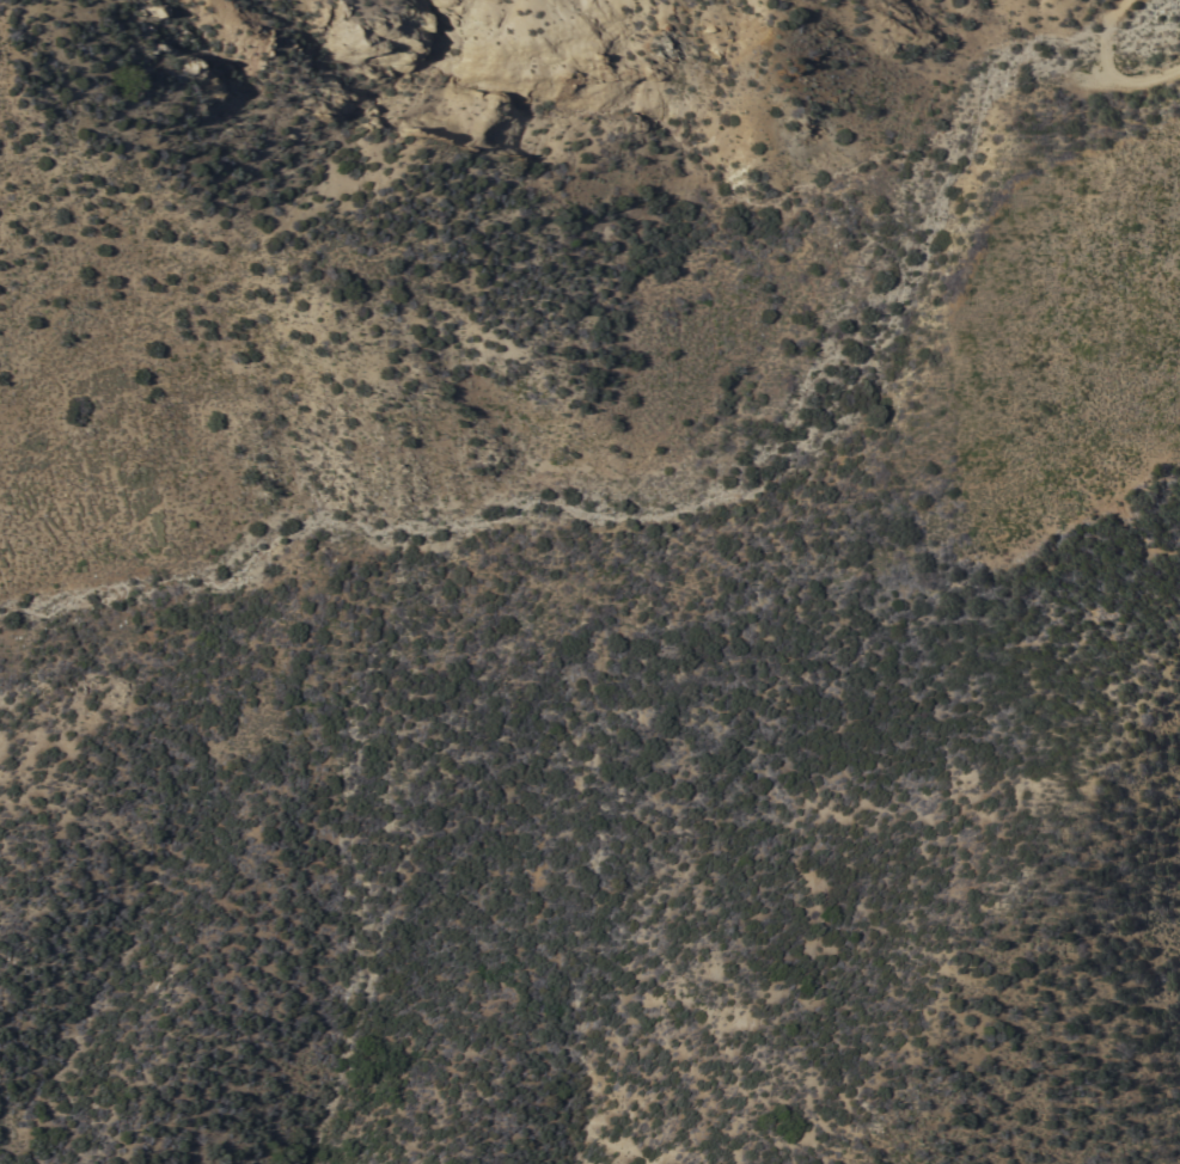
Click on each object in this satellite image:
road: (1148, 71)
road: (1060, 141)

